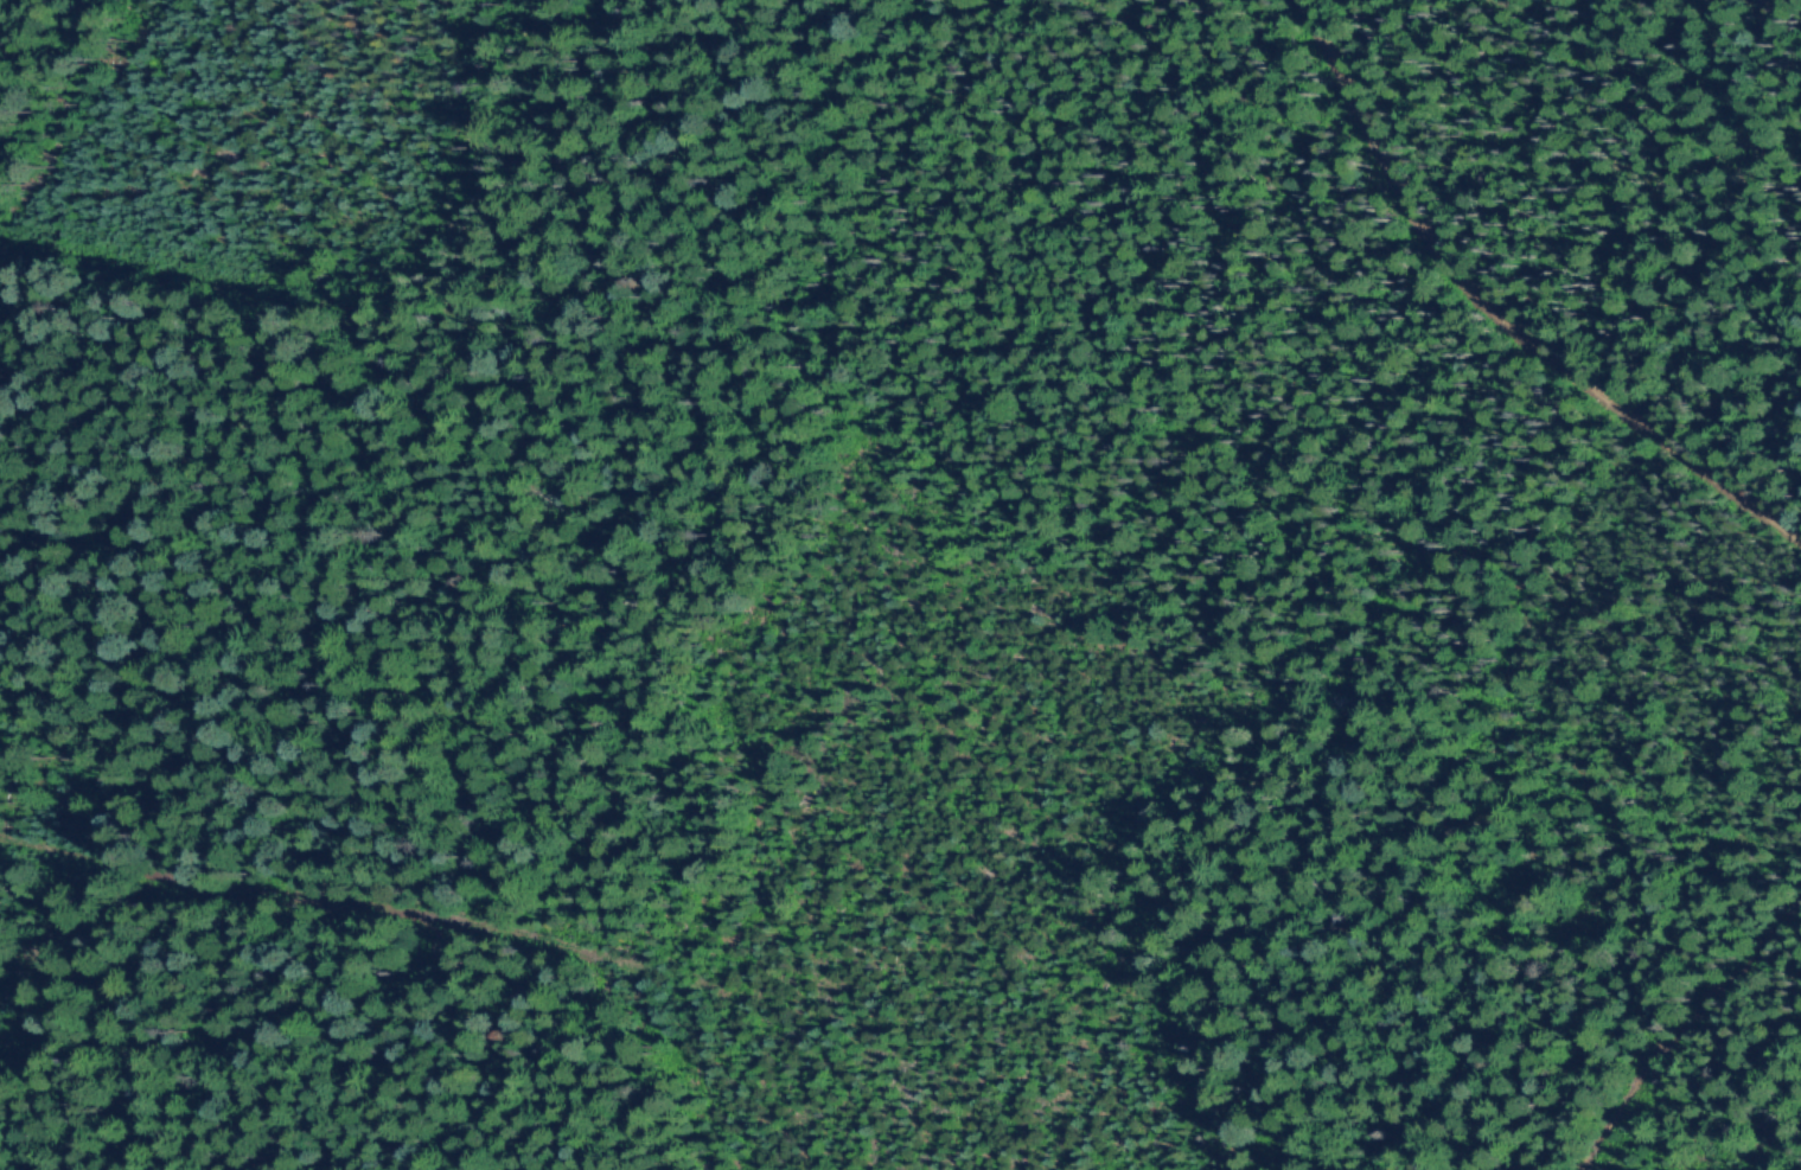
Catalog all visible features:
road: (1514, 301)
road: (224, 886)
road: (1684, 1029)

